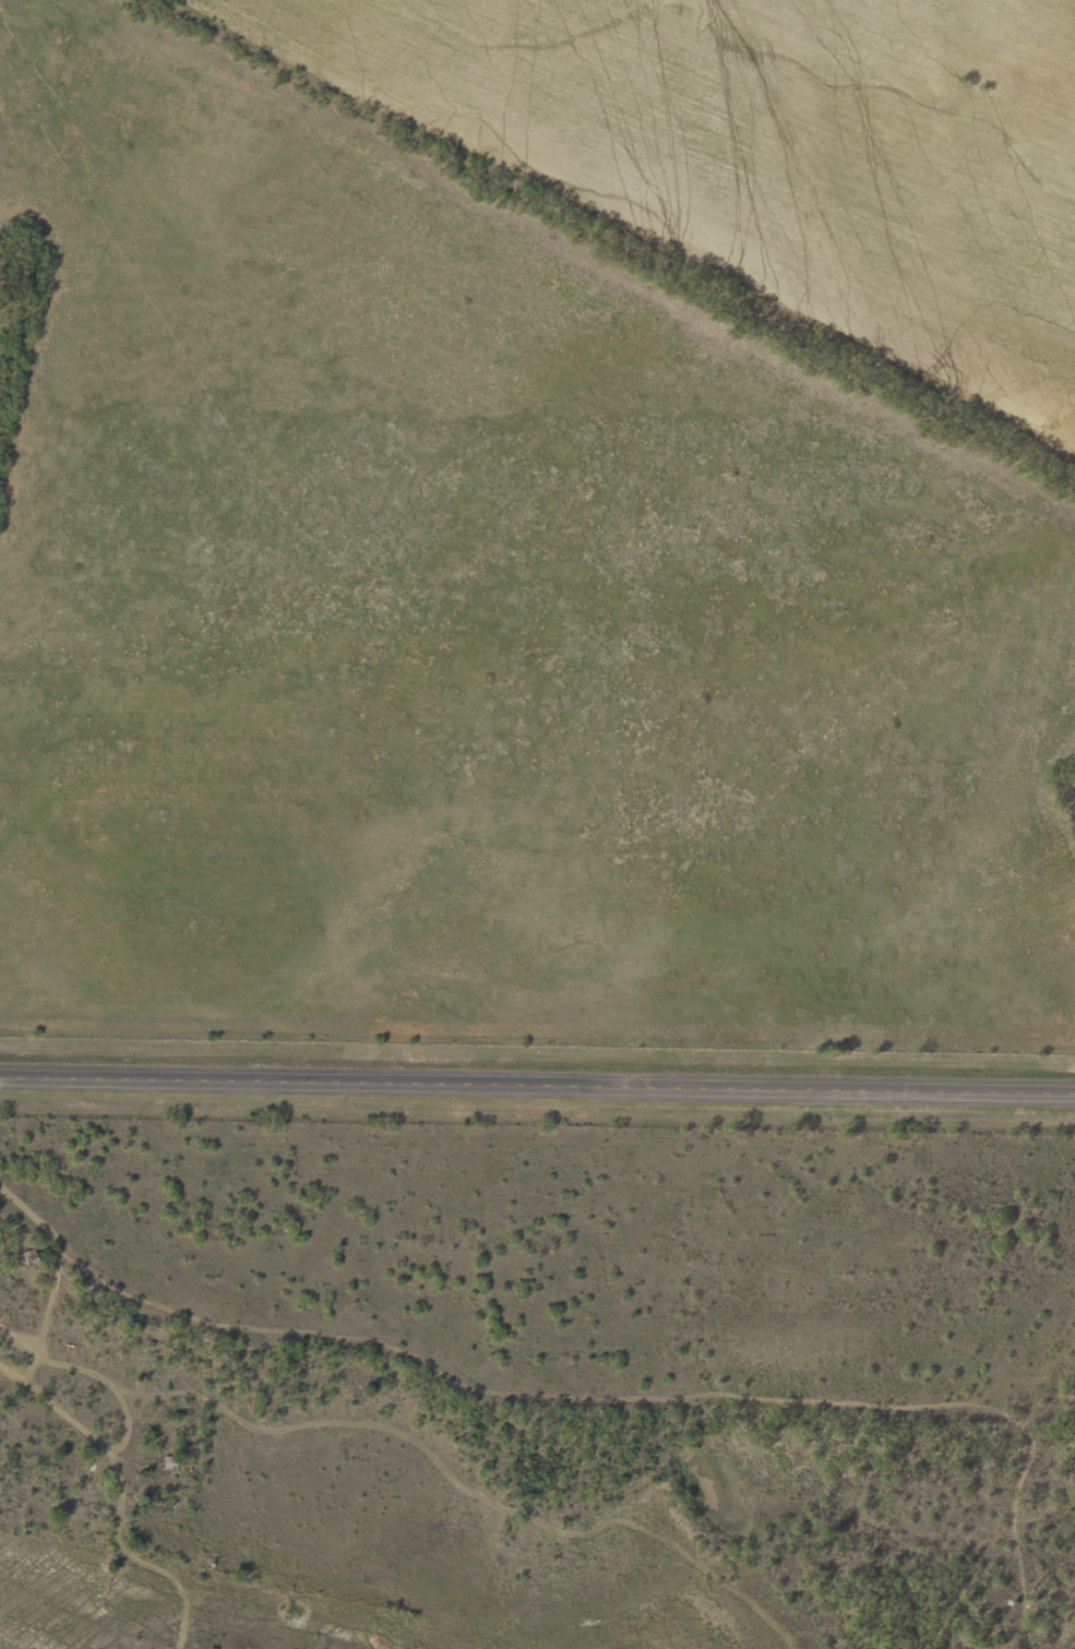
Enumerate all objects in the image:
road: (537, 1087)
road: (57, 1481)

